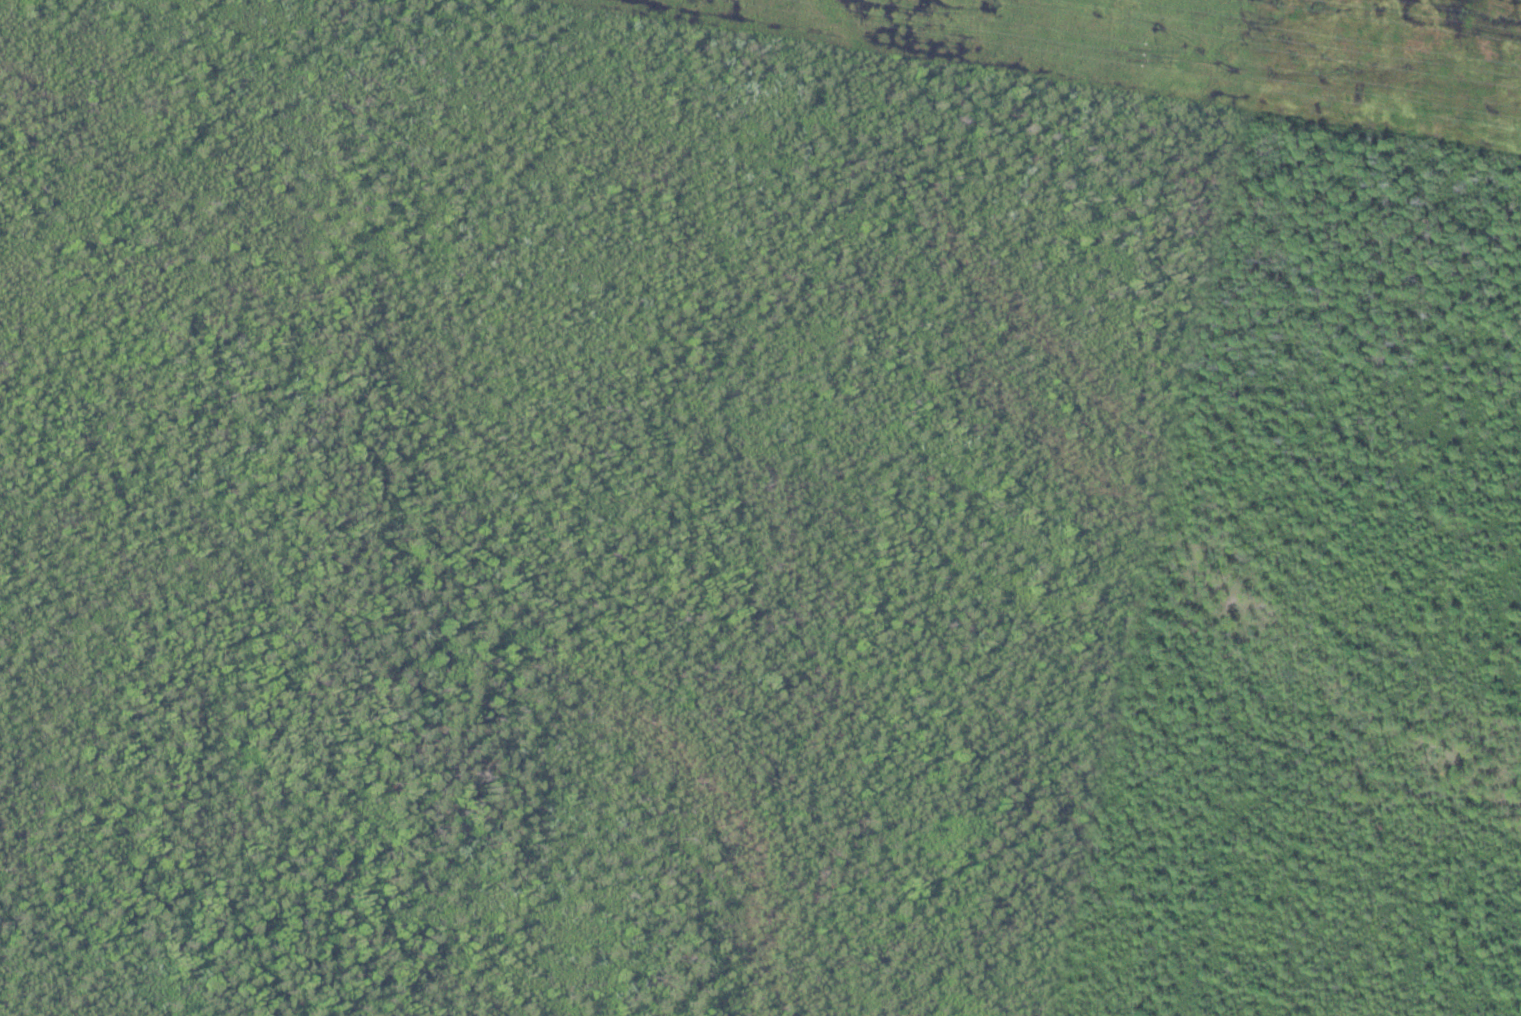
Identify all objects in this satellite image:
power tower: (1269, 33)
power tower: (1124, 57)

